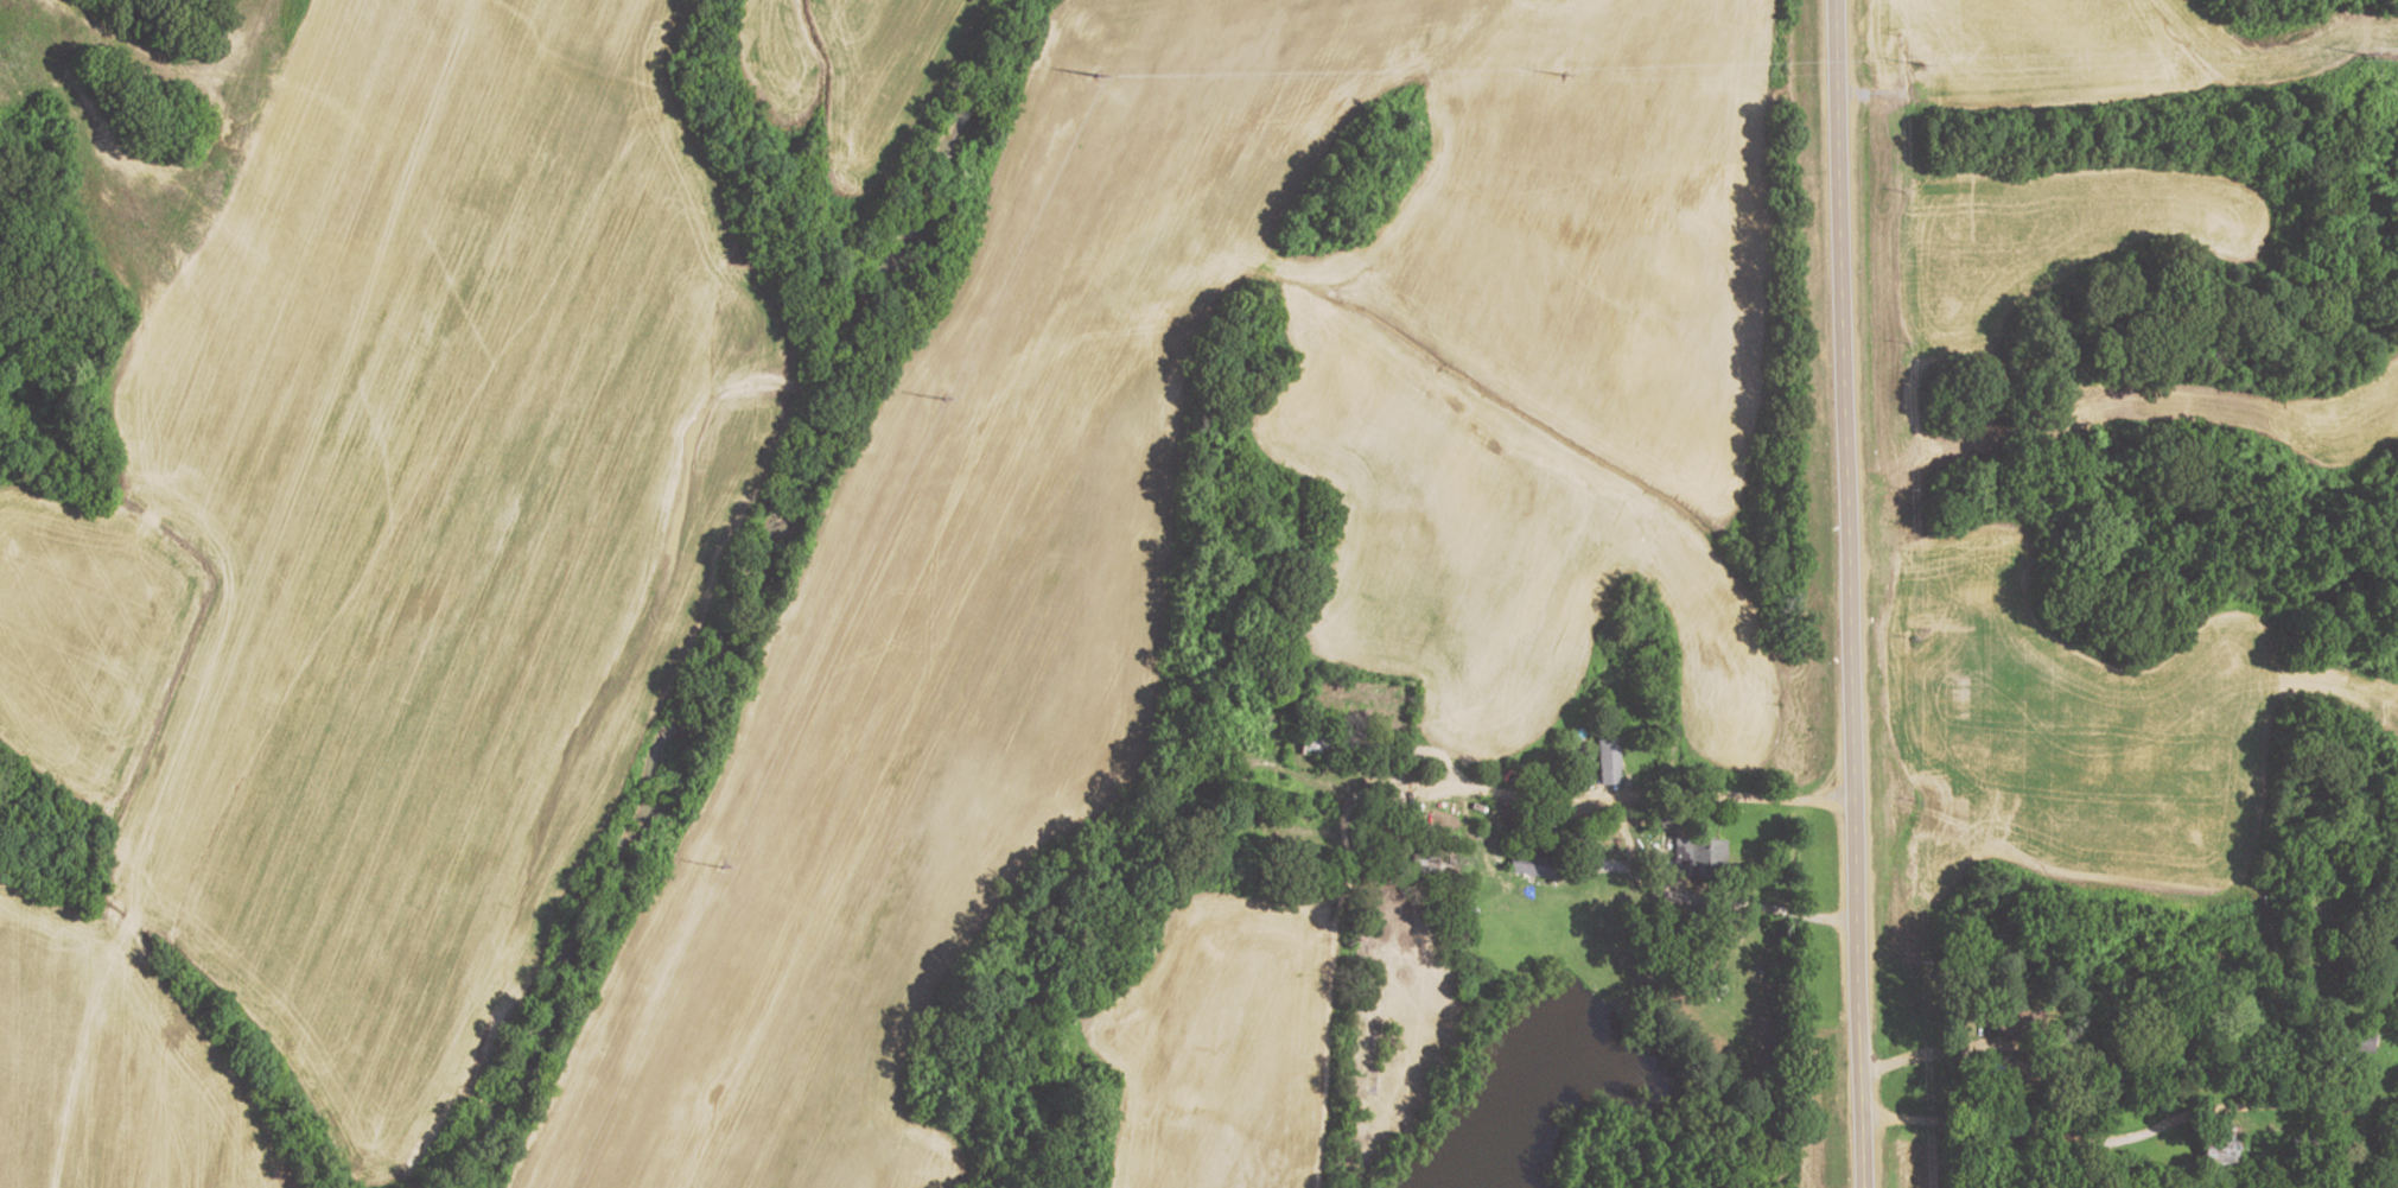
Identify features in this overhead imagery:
road: (1846, 593)
building: (1344, 743)
building: (1605, 761)
road: (1404, 773)
road: (1703, 795)
building: (1697, 857)
building: (1528, 864)
road: (1715, 896)
road: (1509, 942)
road: (1330, 1014)
building: (2012, 1022)
building: (2359, 1040)
road: (1916, 1056)
road: (2104, 1139)
building: (2216, 1148)
building: (2310, 1157)

